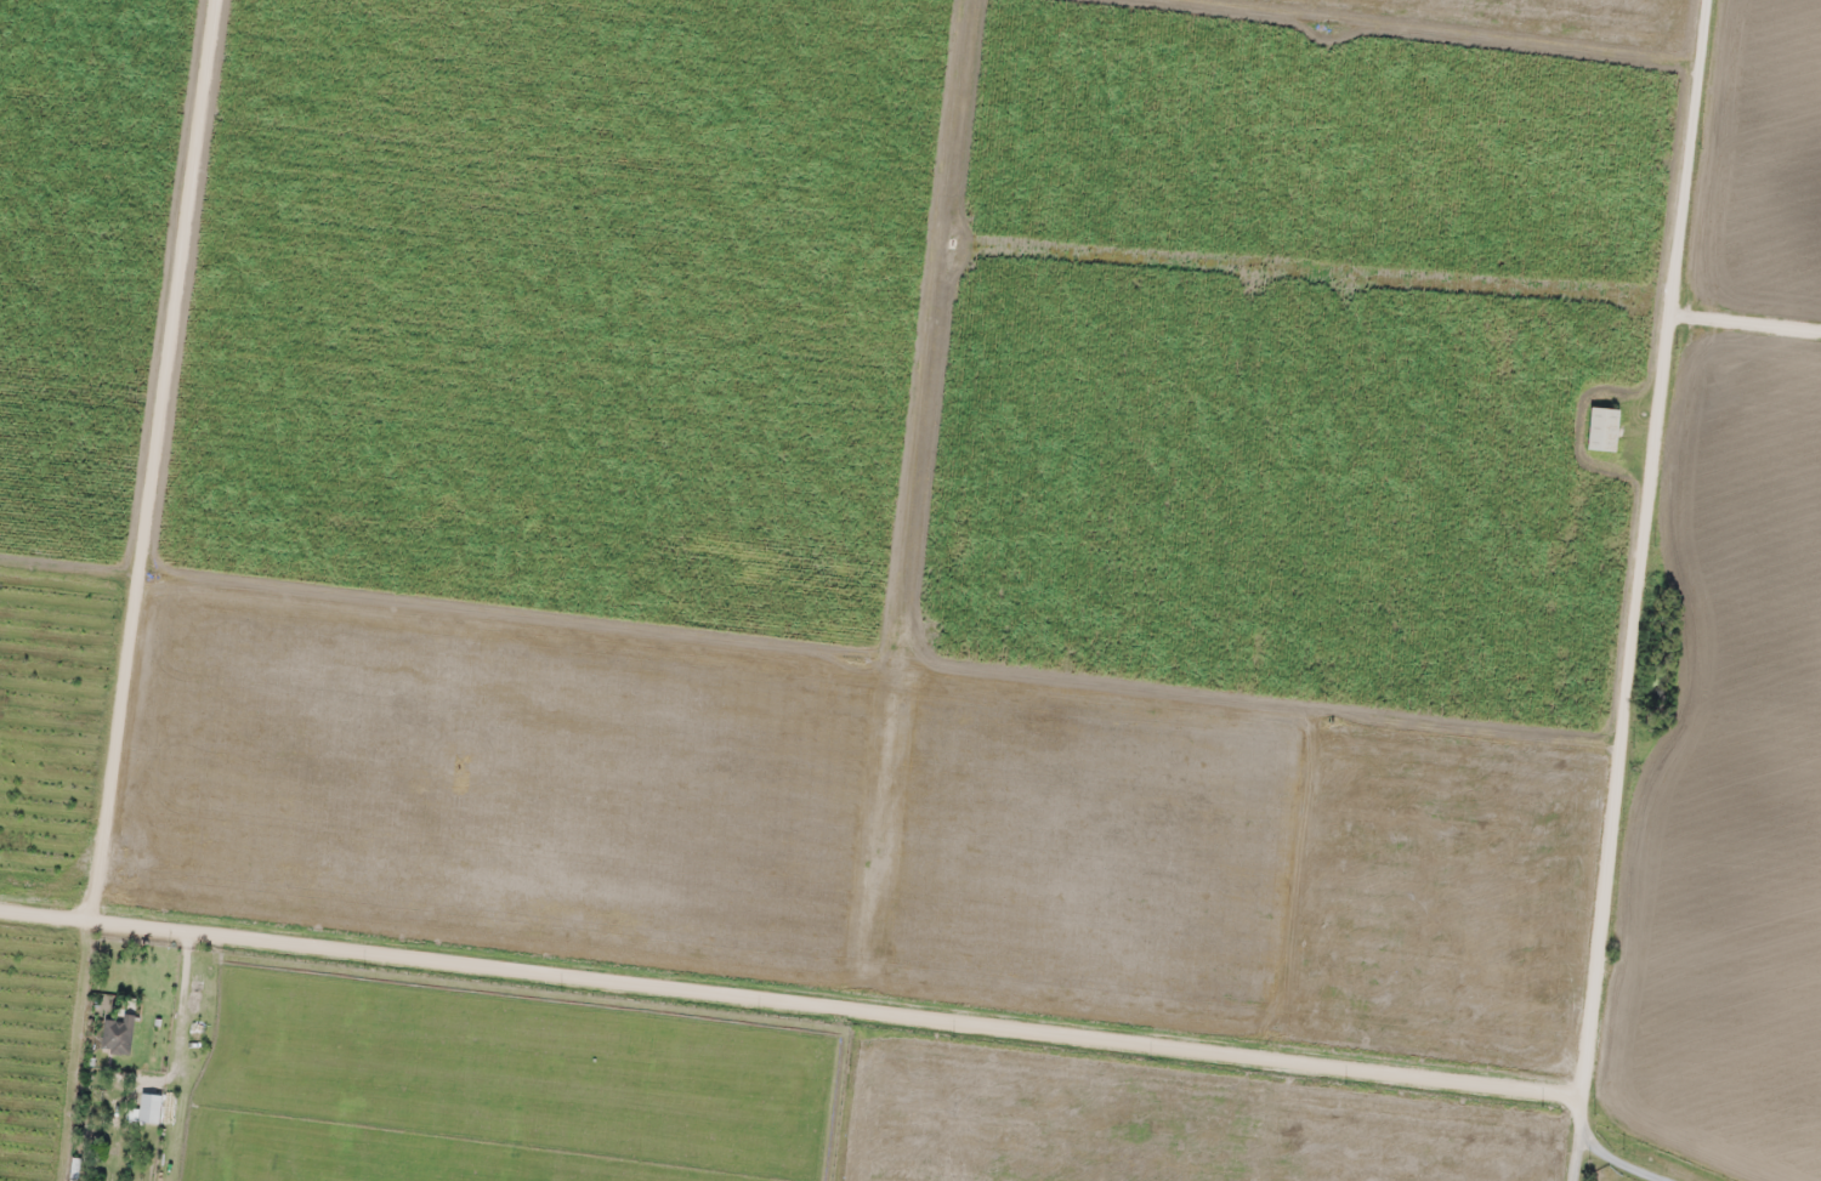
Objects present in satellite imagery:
building: (1602, 428)
road: (1640, 555)
road: (788, 1006)
building: (118, 1034)
road: (1663, 1146)

